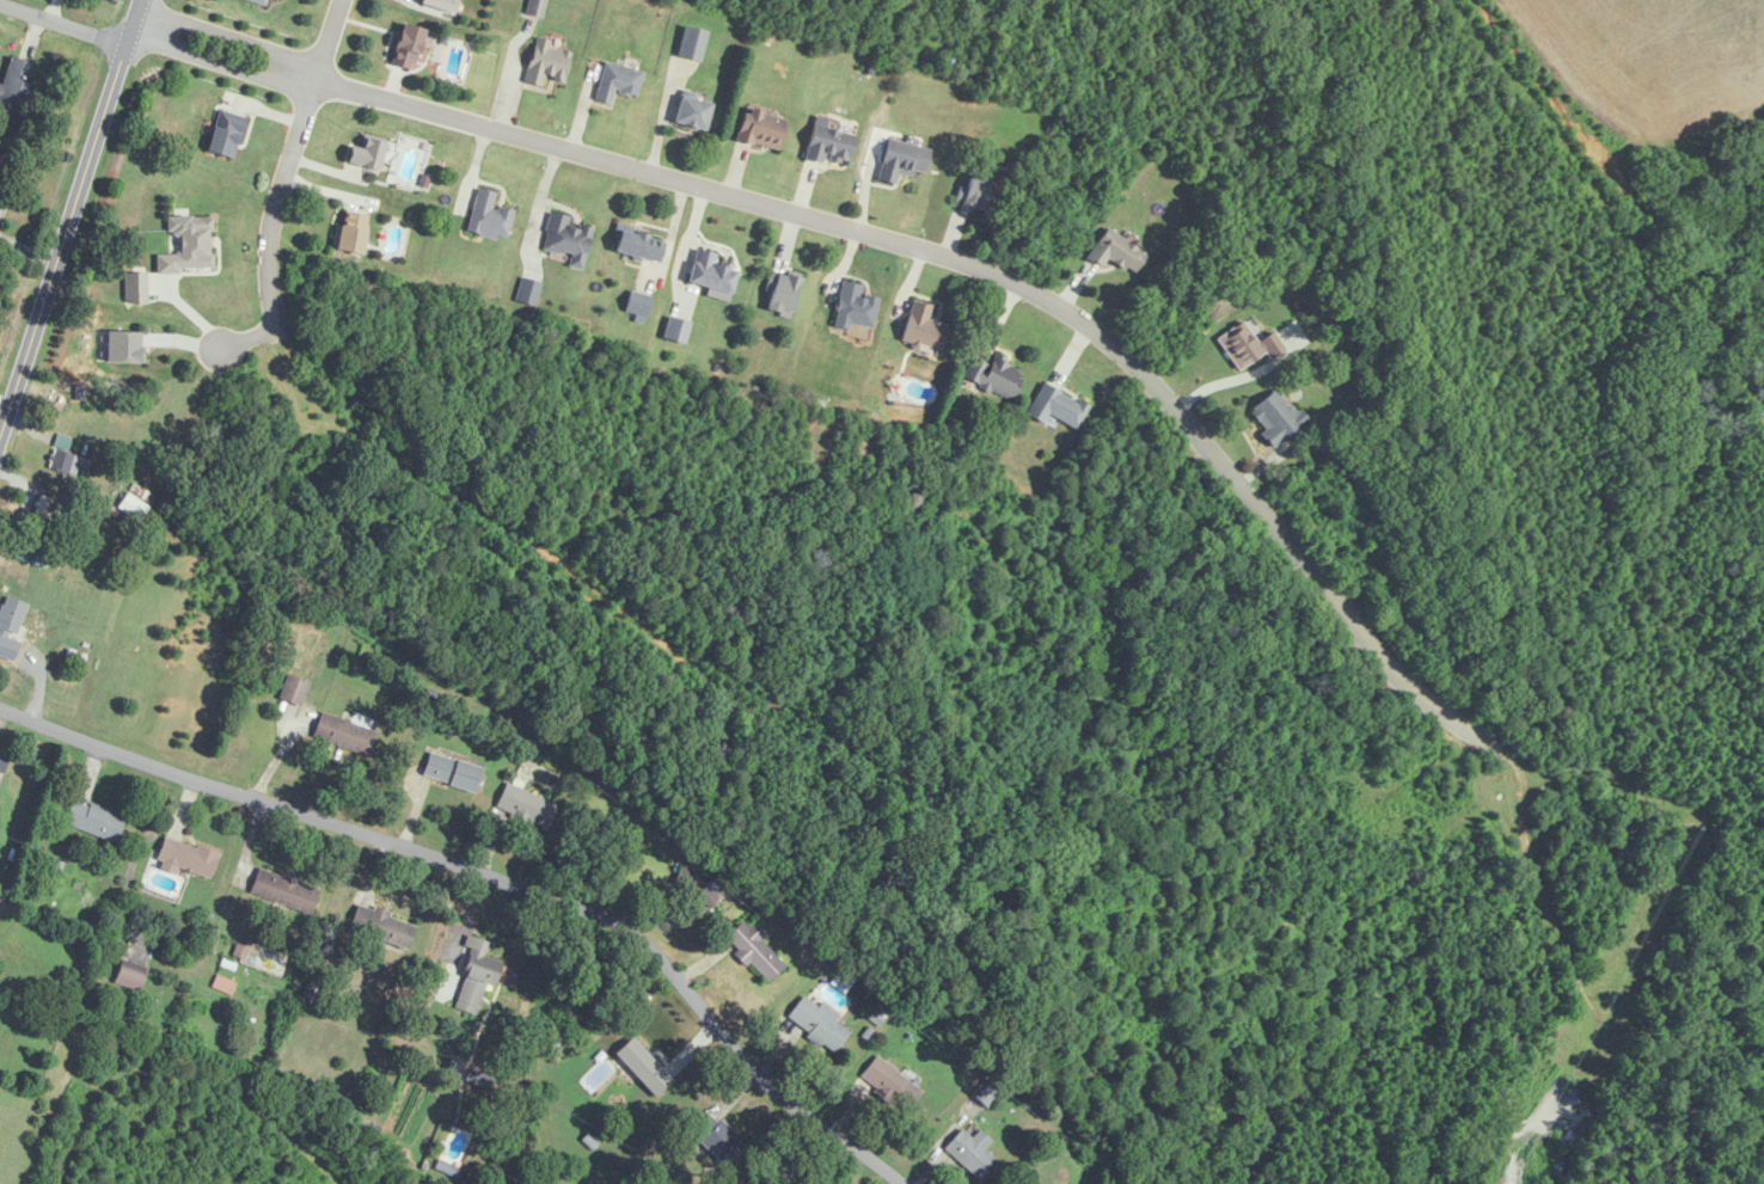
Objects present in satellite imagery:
building: (257, 0)
building: (534, 7)
road: (62, 26)
road: (229, 37)
road: (329, 41)
building: (691, 42)
building: (406, 45)
building: (545, 62)
road: (219, 63)
building: (617, 81)
building: (14, 88)
building: (691, 111)
building: (760, 127)
building: (225, 133)
building: (827, 145)
building: (366, 155)
building: (2, 159)
building: (900, 160)
road: (71, 203)
road: (276, 210)
building: (488, 216)
building: (349, 233)
building: (568, 239)
building: (637, 245)
building: (188, 246)
building: (1115, 251)
building: (711, 272)
road: (991, 272)
building: (135, 288)
building: (527, 292)
building: (636, 303)
building: (853, 308)
building: (923, 329)
building: (675, 330)
road: (249, 339)
building: (1248, 345)
building: (994, 376)
road: (1230, 376)
building: (1055, 406)
building: (1275, 417)
building: (62, 461)
building: (136, 503)
building: (51, 508)
building: (32, 553)
building: (11, 615)
building: (74, 657)
building: (293, 691)
building: (344, 735)
building: (2, 762)
building: (451, 772)
building: (525, 806)
building: (93, 820)
building: (186, 858)
road: (492, 882)
building: (696, 887)
building: (283, 890)
building: (381, 926)
building: (754, 950)
building: (129, 976)
building: (474, 977)
building: (222, 984)
building: (311, 993)
building: (817, 1023)
building: (644, 1068)
building: (890, 1084)
building: (986, 1094)
building: (718, 1140)
building: (970, 1152)

